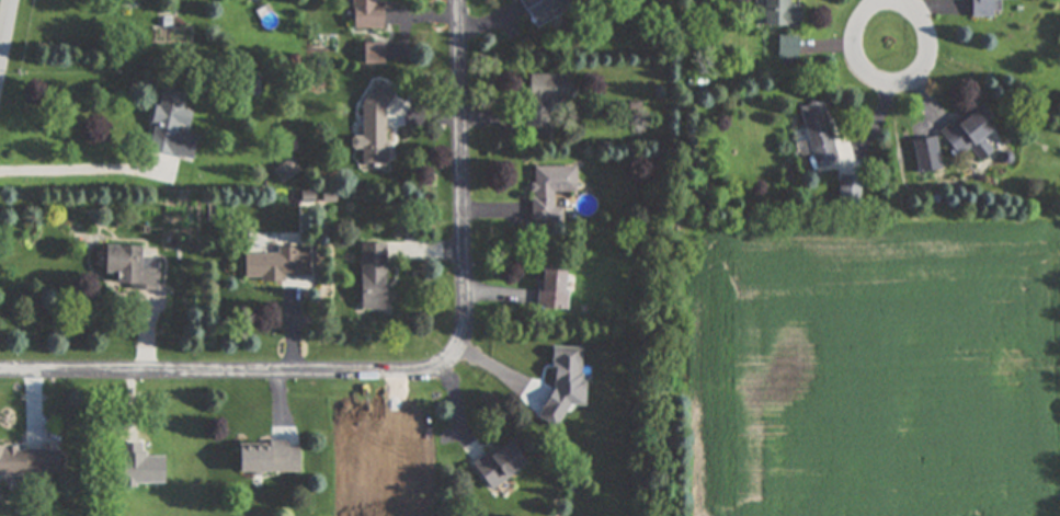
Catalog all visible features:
building: (982, 9)
building: (542, 10)
building: (779, 13)
building: (363, 14)
road: (7, 37)
building: (372, 54)
road: (893, 79)
building: (249, 87)
building: (544, 98)
building: (172, 125)
building: (373, 128)
building: (968, 133)
building: (817, 135)
building: (926, 156)
road: (82, 165)
building: (547, 191)
building: (277, 264)
building: (132, 267)
building: (371, 277)
building: (551, 289)
road: (411, 381)
building: (269, 458)
building: (30, 460)
building: (497, 463)
building: (140, 467)

